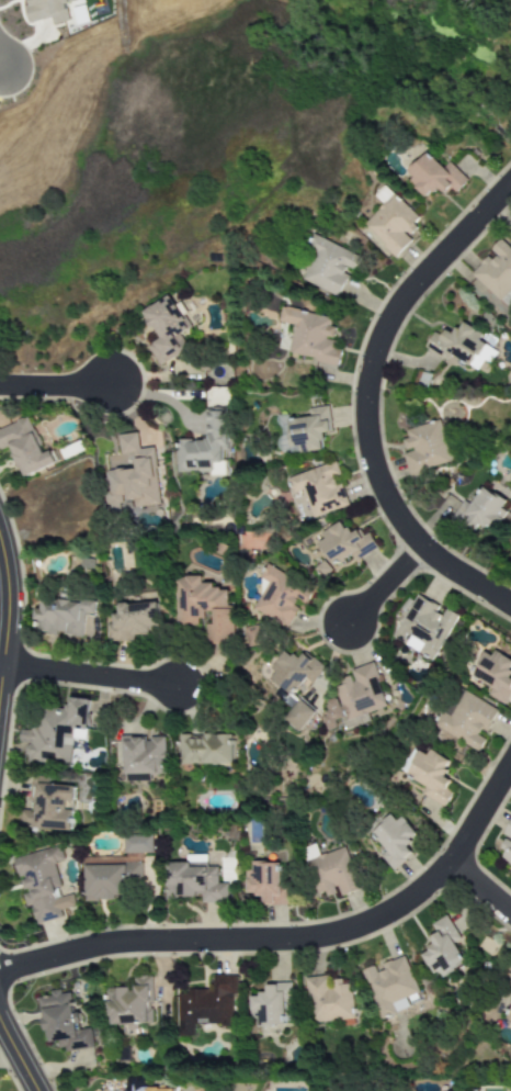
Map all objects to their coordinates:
building: (47, 11)
road: (1, 63)
building: (434, 177)
building: (393, 225)
building: (327, 266)
building: (496, 272)
building: (167, 329)
building: (311, 336)
building: (463, 346)
road: (57, 389)
road: (366, 401)
building: (304, 430)
building: (25, 447)
building: (204, 449)
building: (425, 449)
building: (133, 477)
building: (319, 490)
building: (482, 510)
building: (344, 544)
road: (379, 587)
building: (280, 597)
building: (204, 608)
building: (63, 616)
building: (133, 622)
road: (10, 625)
building: (423, 627)
building: (294, 672)
building: (495, 675)
road: (94, 677)
building: (353, 699)
building: (298, 716)
building: (466, 721)
building: (56, 732)
building: (206, 750)
building: (144, 758)
building: (431, 776)
building: (48, 806)
building: (394, 841)
building: (138, 844)
building: (507, 845)
building: (332, 874)
building: (111, 880)
building: (195, 881)
building: (266, 884)
building: (43, 885)
road: (478, 890)
road: (294, 938)
building: (444, 946)
building: (390, 986)
building: (510, 992)
building: (329, 1000)
building: (130, 1004)
building: (271, 1005)
building: (207, 1006)
building: (509, 1016)
building: (65, 1023)
road: (19, 1054)
building: (140, 1086)

